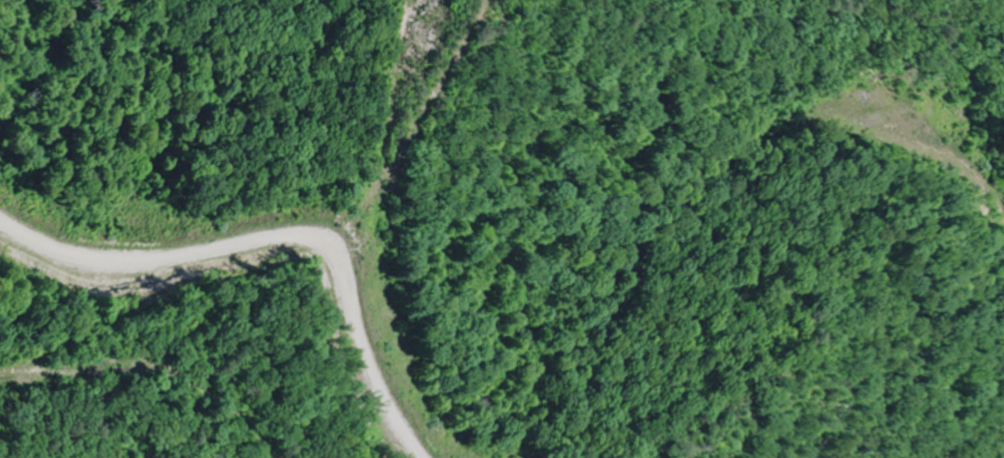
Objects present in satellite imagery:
quarry: (230, 325)

